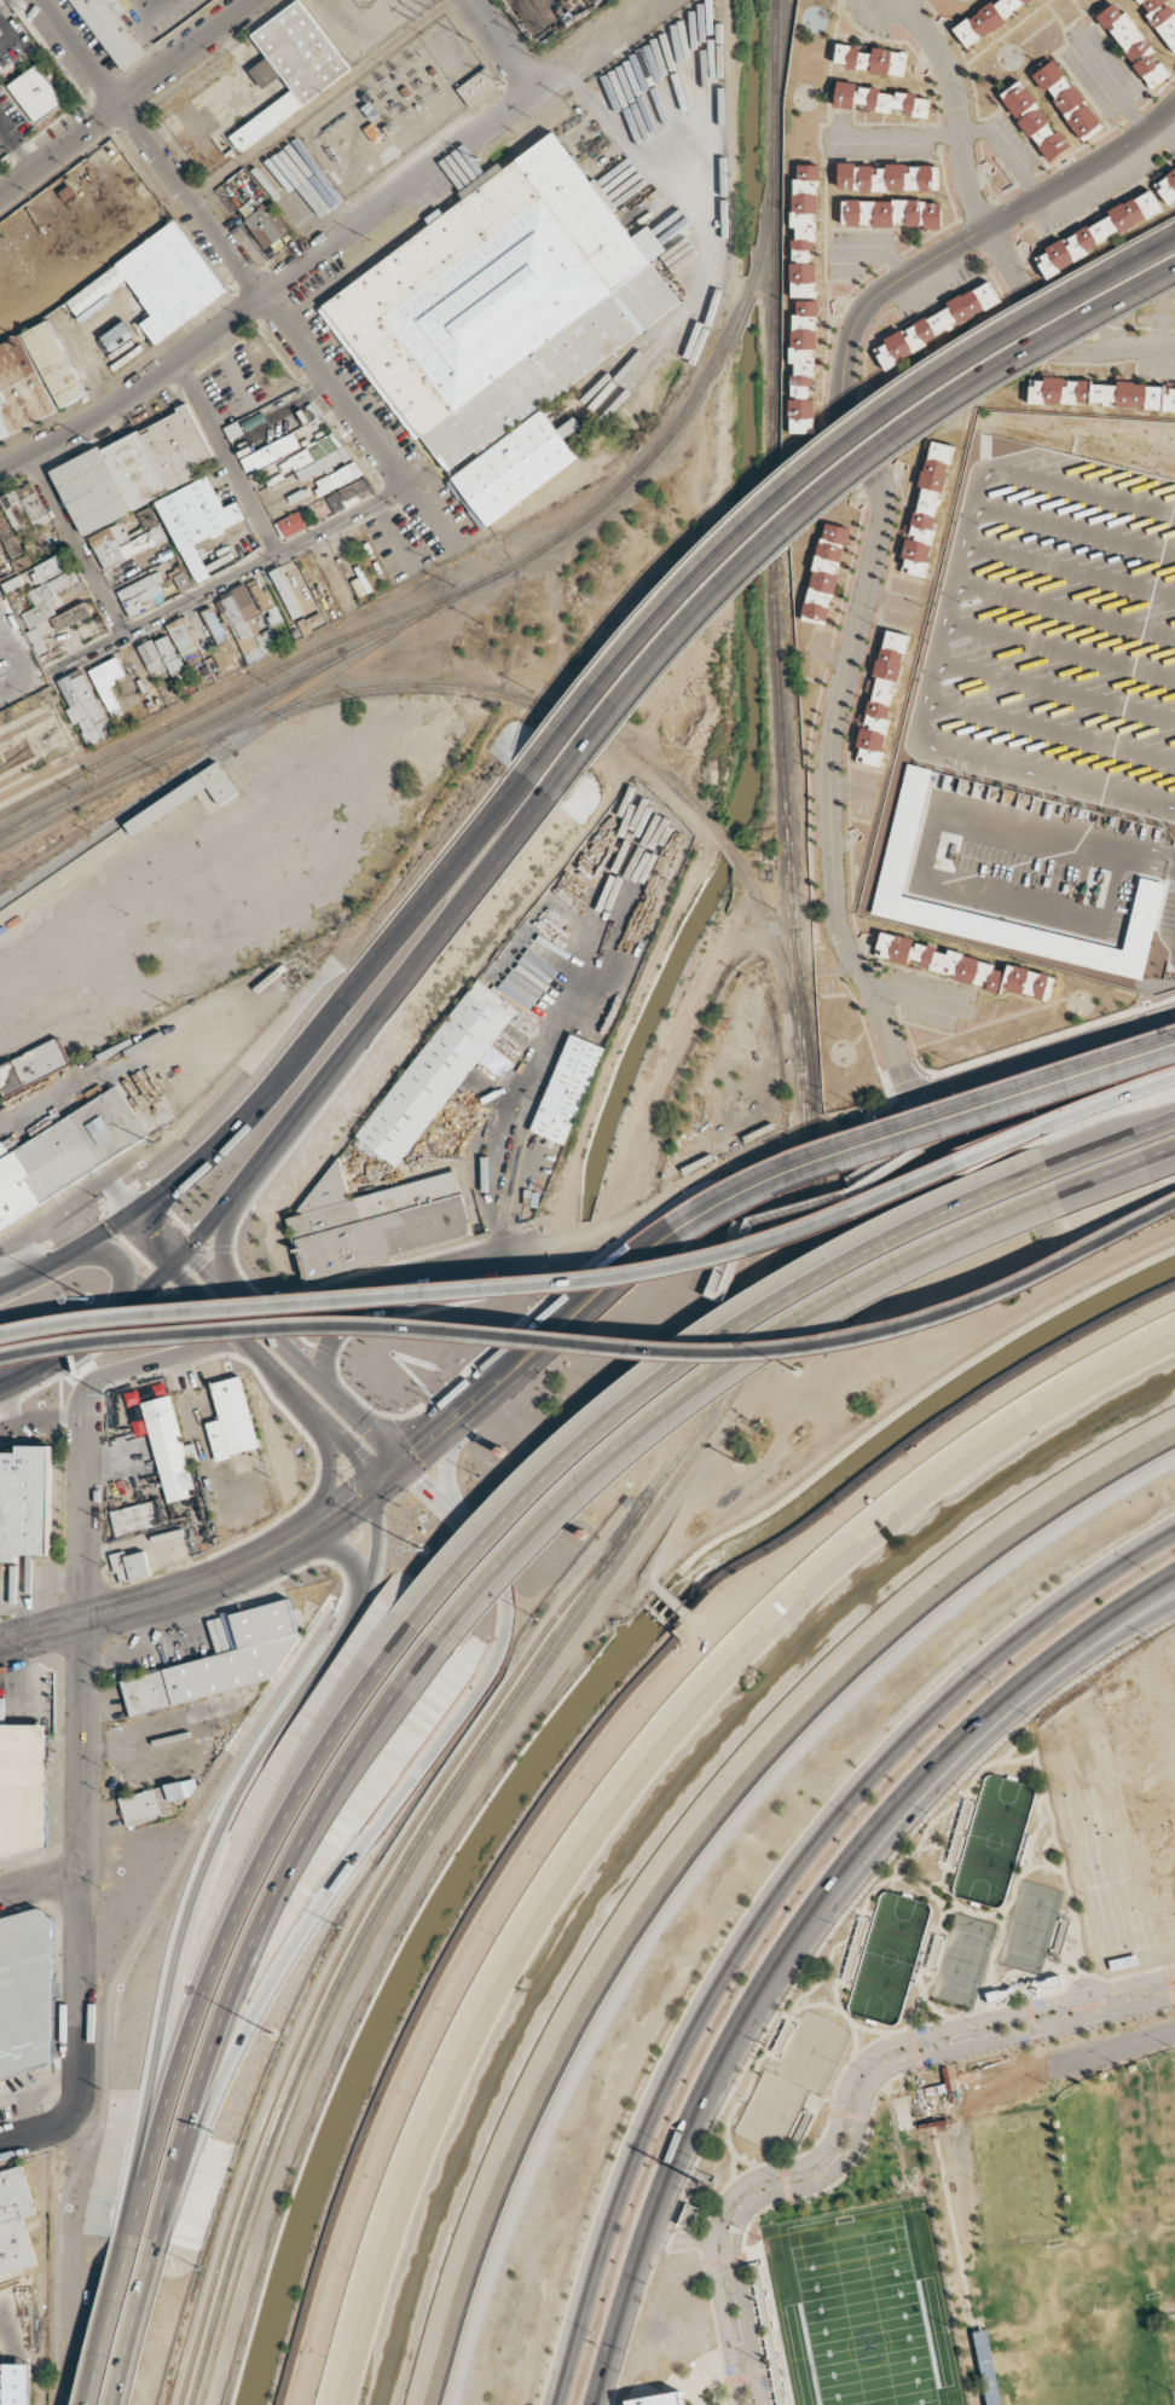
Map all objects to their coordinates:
building: (985, 18)
building: (1160, 18)
building: (111, 30)
road: (504, 44)
building: (1133, 45)
building: (869, 59)
building: (290, 67)
building: (477, 87)
building: (35, 93)
road: (127, 97)
building: (1066, 98)
building: (879, 99)
building: (1034, 121)
road: (152, 149)
building: (886, 177)
building: (1165, 186)
building: (892, 213)
building: (264, 229)
road: (989, 229)
building: (803, 230)
building: (1098, 232)
road: (329, 245)
railway: (770, 264)
building: (158, 282)
building: (502, 302)
building: (942, 320)
building: (803, 365)
building: (34, 377)
building: (1102, 393)
road: (358, 426)
building: (569, 427)
building: (270, 452)
road: (230, 457)
building: (316, 458)
road: (815, 462)
building: (511, 469)
building: (132, 470)
building: (337, 478)
building: (25, 490)
road: (827, 490)
building: (349, 493)
building: (13, 510)
building: (35, 510)
building: (926, 510)
road: (886, 515)
building: (197, 520)
building: (290, 525)
building: (7, 537)
building: (123, 543)
road: (77, 544)
railway: (550, 547)
building: (47, 570)
building: (826, 571)
building: (181, 580)
road: (227, 582)
building: (285, 592)
building: (143, 594)
building: (260, 594)
building: (45, 600)
building: (245, 602)
building: (71, 617)
building: (247, 632)
building: (181, 636)
building: (220, 640)
building: (37, 641)
building: (169, 654)
building: (151, 658)
railway: (241, 676)
building: (882, 689)
railway: (279, 690)
building: (83, 707)
railway: (22, 710)
railway: (189, 717)
railway: (25, 725)
railway: (614, 739)
railway: (34, 767)
railway: (158, 777)
building: (184, 797)
railway: (140, 807)
railway: (785, 834)
building: (526, 938)
building: (965, 967)
road: (336, 1008)
road: (365, 1021)
building: (33, 1065)
building: (435, 1071)
building: (566, 1089)
road: (931, 1103)
road: (1063, 1114)
road: (936, 1128)
road: (1104, 1141)
building: (66, 1154)
road: (1110, 1180)
building: (374, 1222)
road: (161, 1227)
road: (221, 1238)
road: (60, 1254)
road: (117, 1261)
road: (464, 1265)
road: (485, 1280)
road: (169, 1290)
road: (343, 1299)
road: (359, 1317)
road: (224, 1320)
road: (540, 1323)
road: (99, 1328)
road: (600, 1334)
road: (556, 1348)
road: (691, 1351)
road: (163, 1359)
road: (296, 1362)
road: (711, 1380)
building: (228, 1420)
building: (167, 1447)
road: (355, 1462)
road: (325, 1474)
road: (441, 1474)
road: (352, 1486)
building: (23, 1501)
road: (305, 1553)
road: (247, 1556)
road: (348, 1563)
building: (129, 1566)
road: (91, 1618)
road: (1111, 1634)
building: (219, 1661)
railway: (549, 1663)
road: (81, 1752)
building: (22, 1796)
river: (659, 1800)
building: (155, 1802)
road: (381, 1815)
railway: (426, 1827)
road: (695, 1840)
park: (988, 1843)
road: (206, 1846)
road: (39, 1880)
road: (769, 1897)
road: (232, 1915)
road: (261, 1924)
park: (1026, 1924)
road: (799, 1929)
park: (881, 1956)
park: (956, 1960)
road: (1090, 1982)
building: (25, 1993)
road: (1111, 2050)
park: (787, 2081)
road: (840, 2102)
road: (858, 2121)
park: (1160, 2128)
road: (34, 2133)
park: (1014, 2178)
park: (1173, 2219)
building: (15, 2222)
road: (690, 2238)
park: (858, 2308)
road: (137, 2323)
park: (1067, 2325)
road: (108, 2326)
building: (656, 2398)

